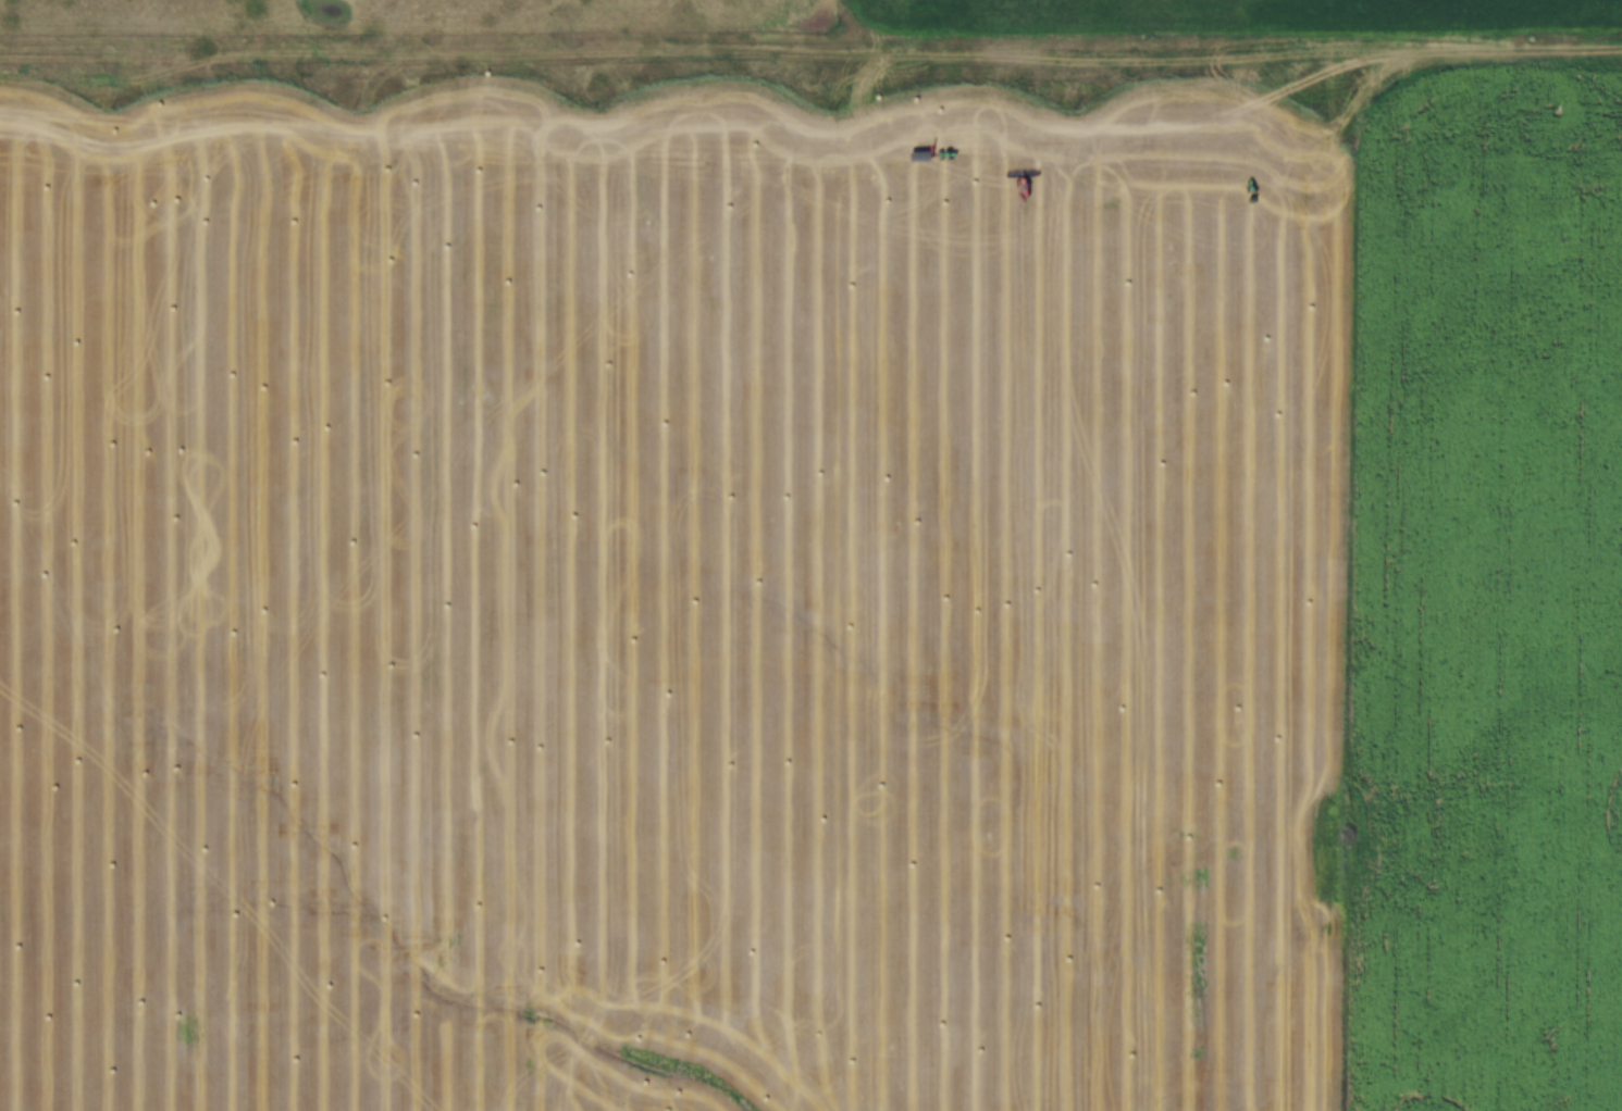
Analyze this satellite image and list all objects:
road: (810, 54)

